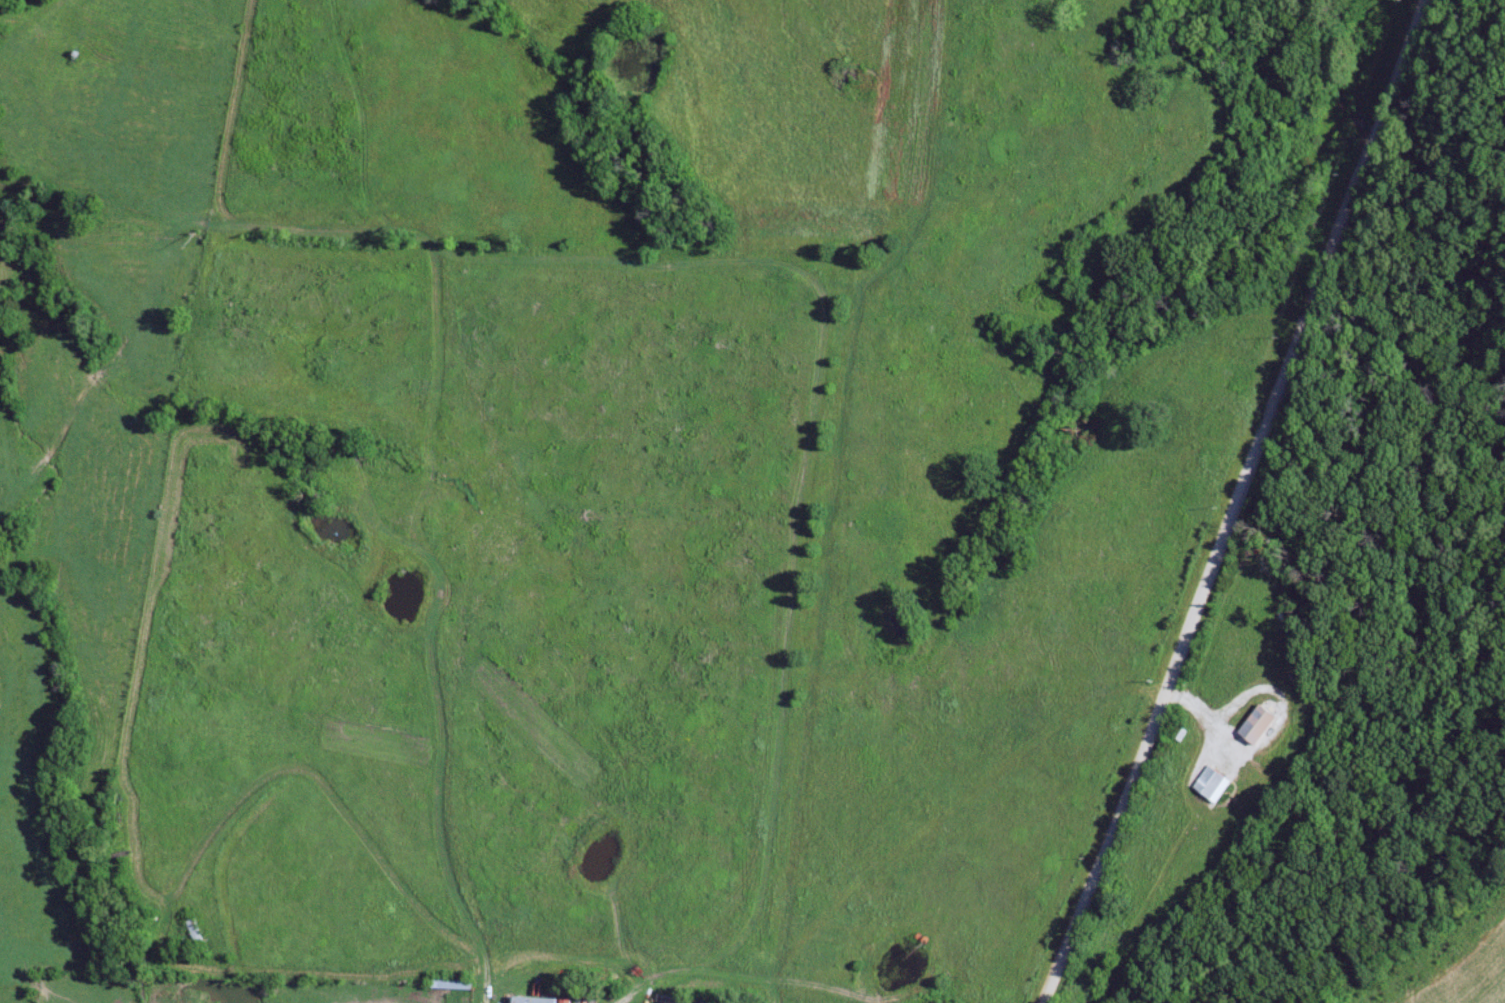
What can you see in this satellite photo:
road: (1234, 501)
building: (1264, 725)
building: (1217, 784)
building: (538, 1000)

